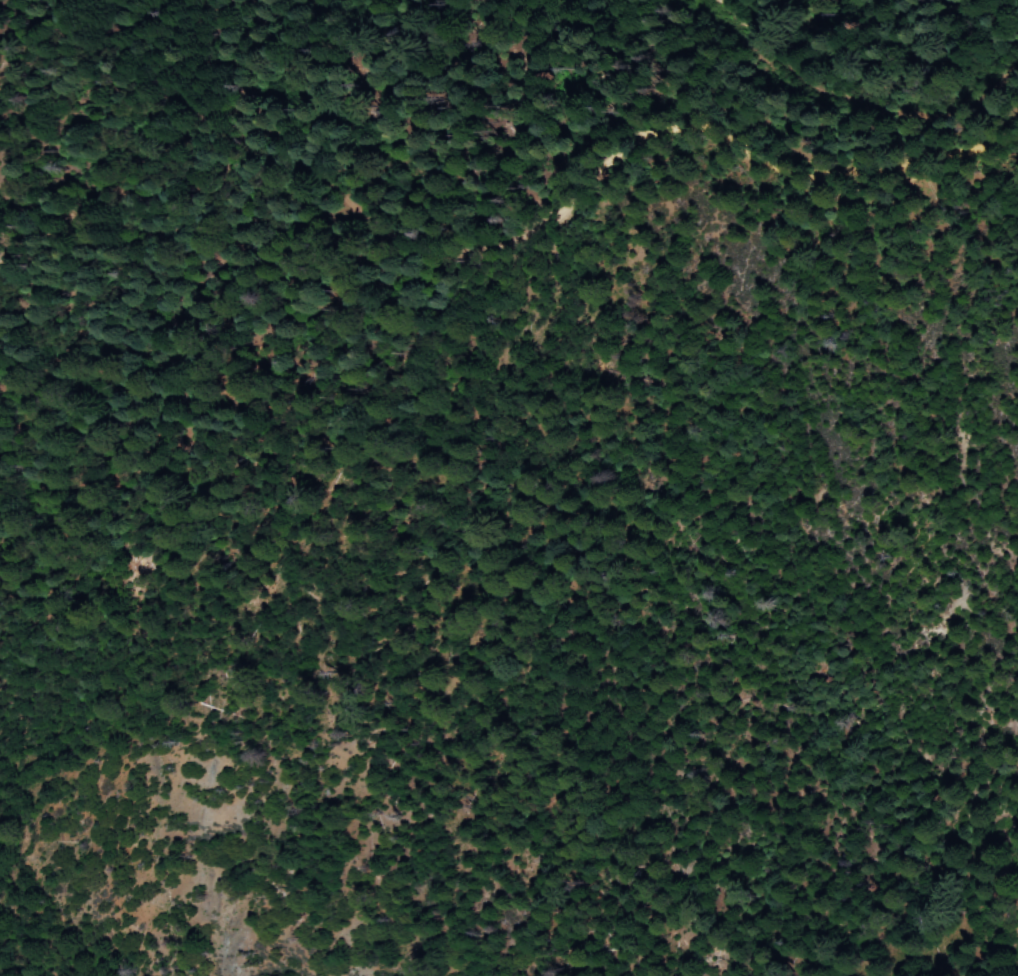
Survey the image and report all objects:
road: (478, 248)

